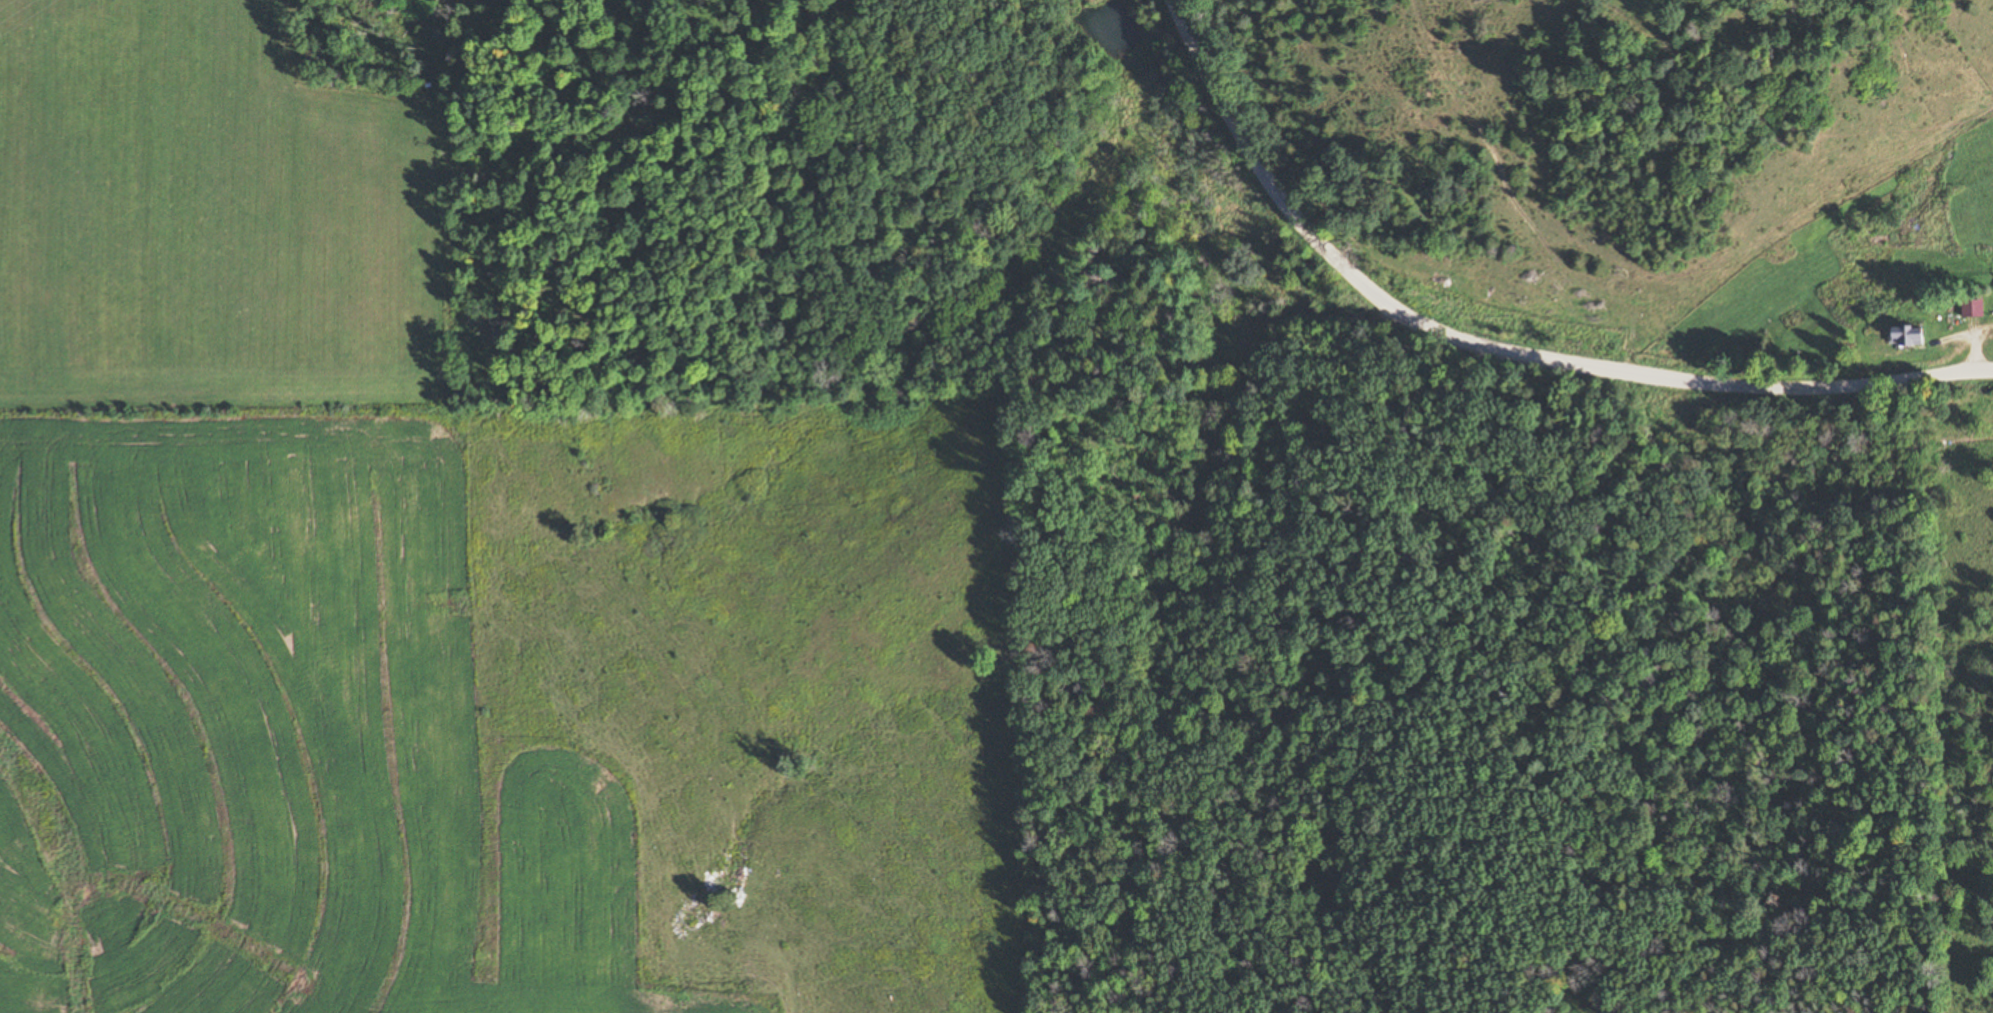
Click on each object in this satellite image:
dam: (1082, 4)
building: (1973, 305)
building: (1912, 336)
road: (1500, 347)

